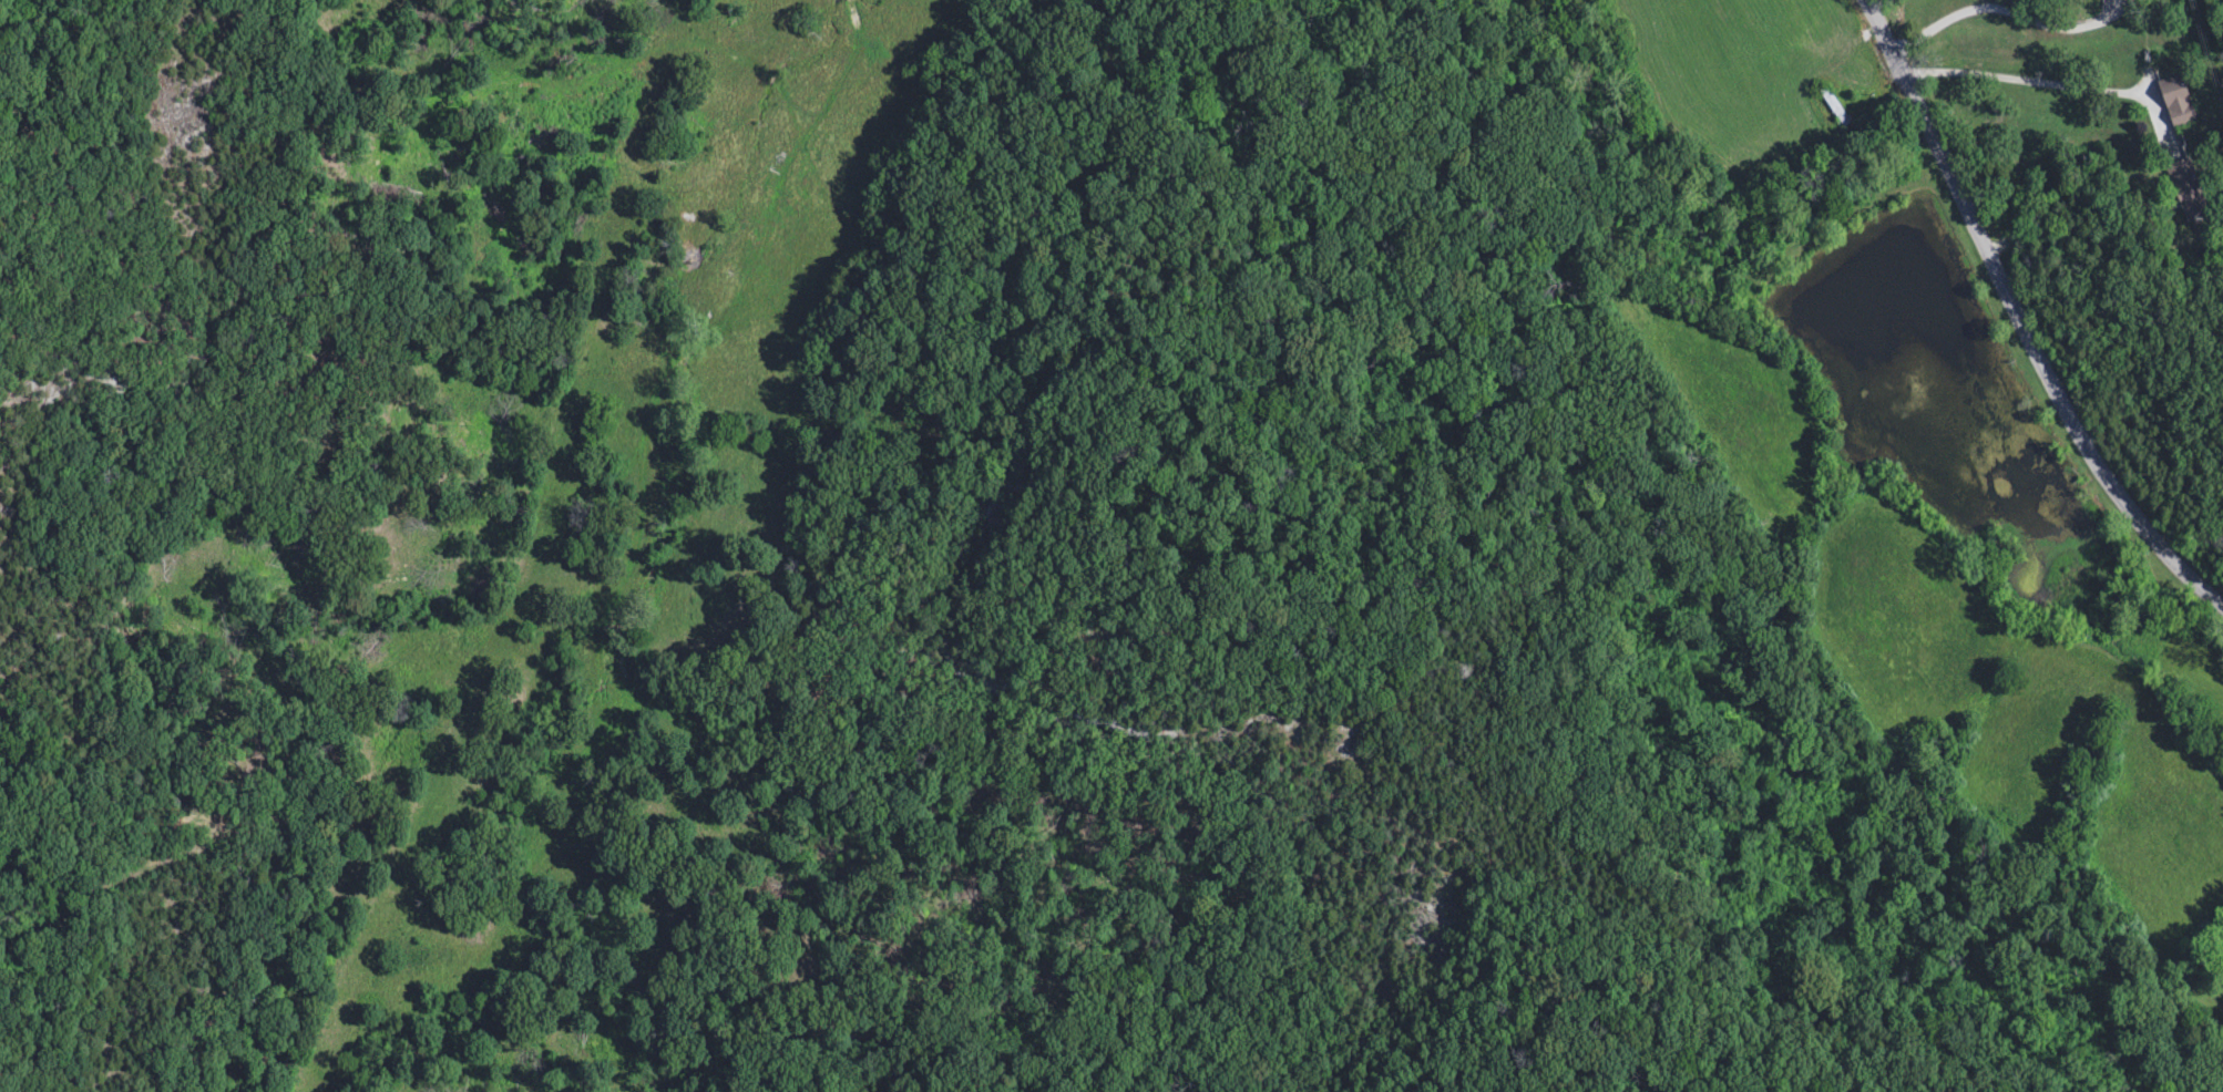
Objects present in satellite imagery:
road: (2009, 13)
road: (2102, 90)
building: (2178, 107)
building: (1833, 109)
building: (2188, 190)
road: (2024, 318)

